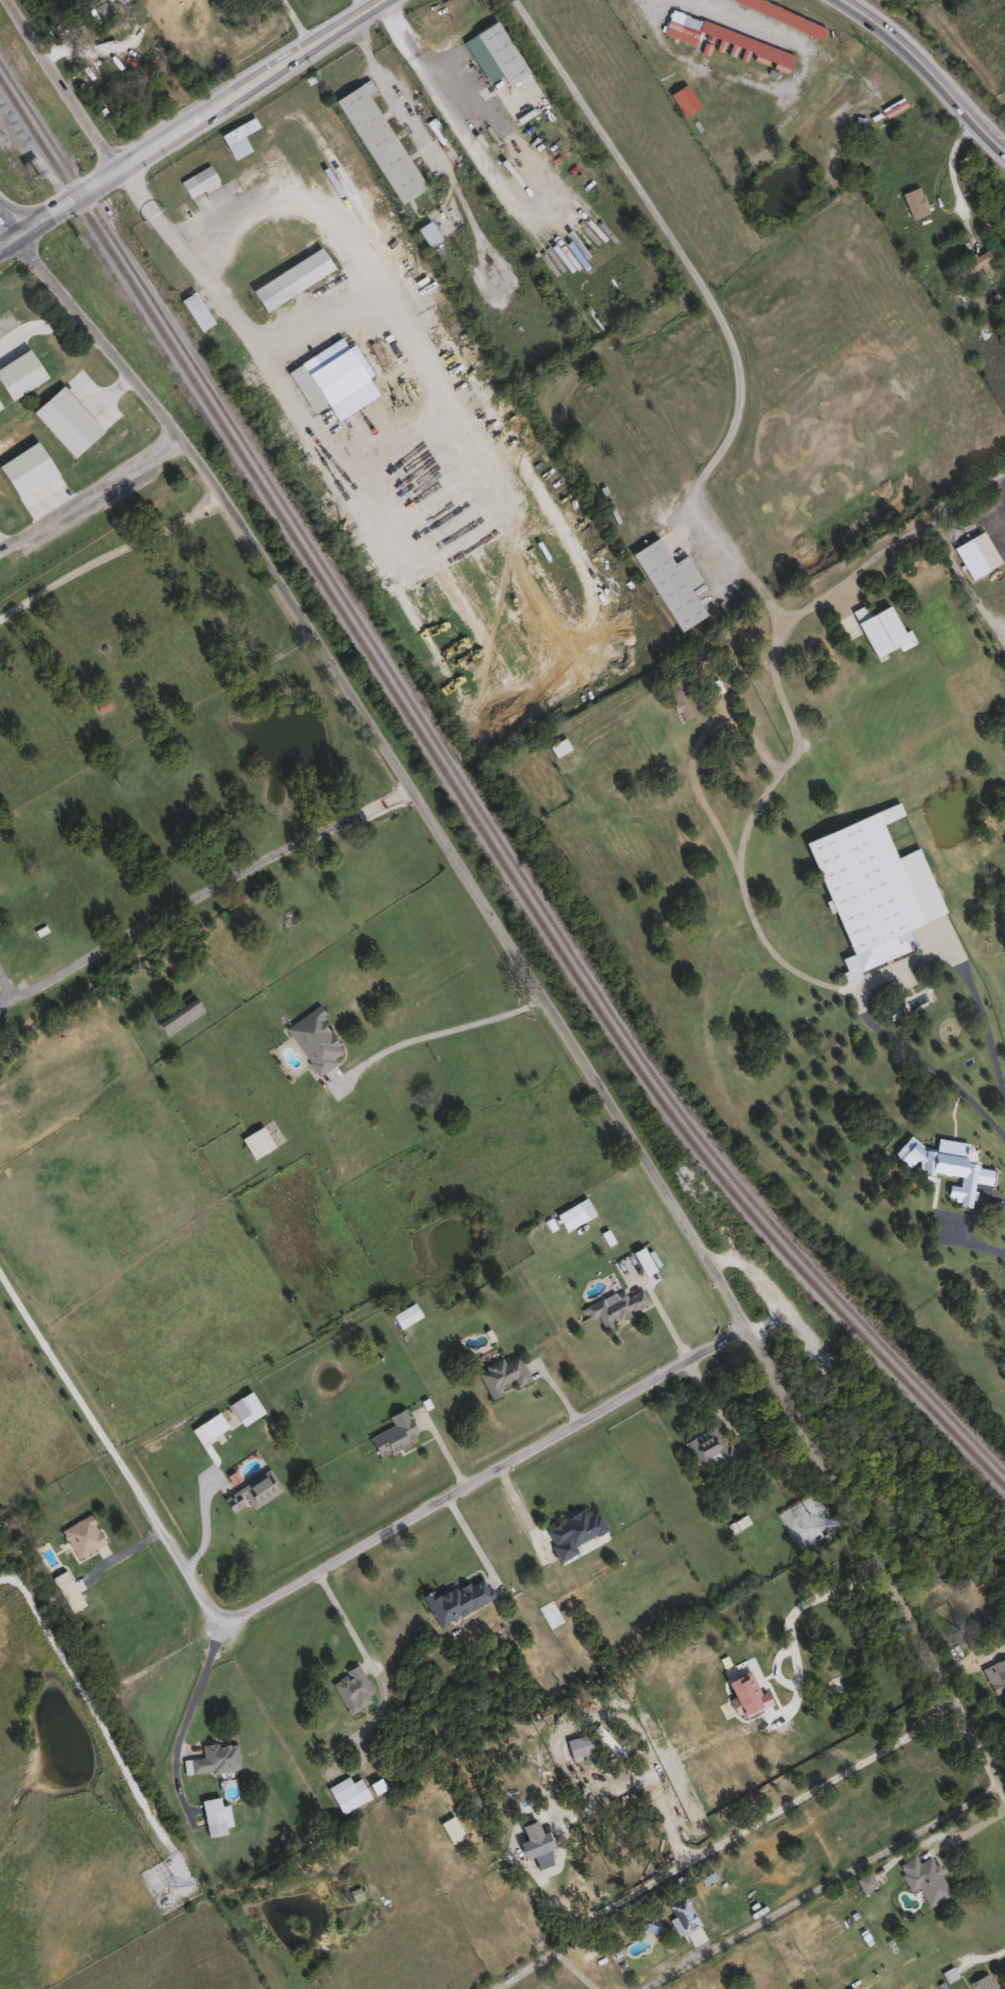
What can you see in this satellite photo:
road: (360, 5)
road: (371, 5)
building: (99, 9)
road: (296, 22)
road: (748, 22)
road: (336, 28)
building: (687, 30)
building: (493, 53)
road: (925, 67)
road: (64, 83)
road: (453, 116)
road: (161, 138)
building: (378, 142)
road: (946, 158)
building: (199, 181)
road: (7, 225)
road: (187, 236)
road: (7, 241)
building: (976, 261)
building: (291, 278)
road: (703, 293)
road: (38, 327)
building: (328, 373)
road: (987, 485)
road: (91, 490)
road: (0, 549)
road: (112, 553)
building: (317, 557)
road: (867, 557)
building: (968, 557)
building: (670, 582)
building: (682, 699)
building: (102, 704)
road: (691, 755)
railway: (467, 794)
railway: (467, 809)
road: (748, 821)
building: (868, 889)
road: (207, 892)
road: (883, 972)
road: (540, 982)
building: (177, 1013)
road: (439, 1030)
building: (313, 1039)
building: (256, 1141)
road: (980, 1245)
building: (629, 1263)
building: (616, 1306)
building: (405, 1314)
road: (669, 1321)
building: (489, 1350)
road: (61, 1359)
building: (502, 1373)
building: (242, 1404)
building: (211, 1425)
building: (392, 1433)
building: (708, 1446)
building: (252, 1491)
road: (524, 1516)
road: (408, 1524)
building: (574, 1530)
building: (82, 1536)
road: (120, 1553)
building: (458, 1599)
road: (349, 1615)
building: (995, 1674)
building: (774, 1685)
building: (350, 1687)
road: (195, 1704)
road: (739, 1730)
road: (639, 1735)
building: (578, 1745)
building: (215, 1758)
building: (344, 1797)
building: (211, 1816)
road: (667, 1816)
road: (749, 1825)
road: (967, 1832)
building: (534, 1845)
building: (924, 1878)
building: (864, 1881)
road: (828, 1882)
building: (681, 1915)
building: (639, 1940)
road: (985, 1958)
road: (549, 1962)

